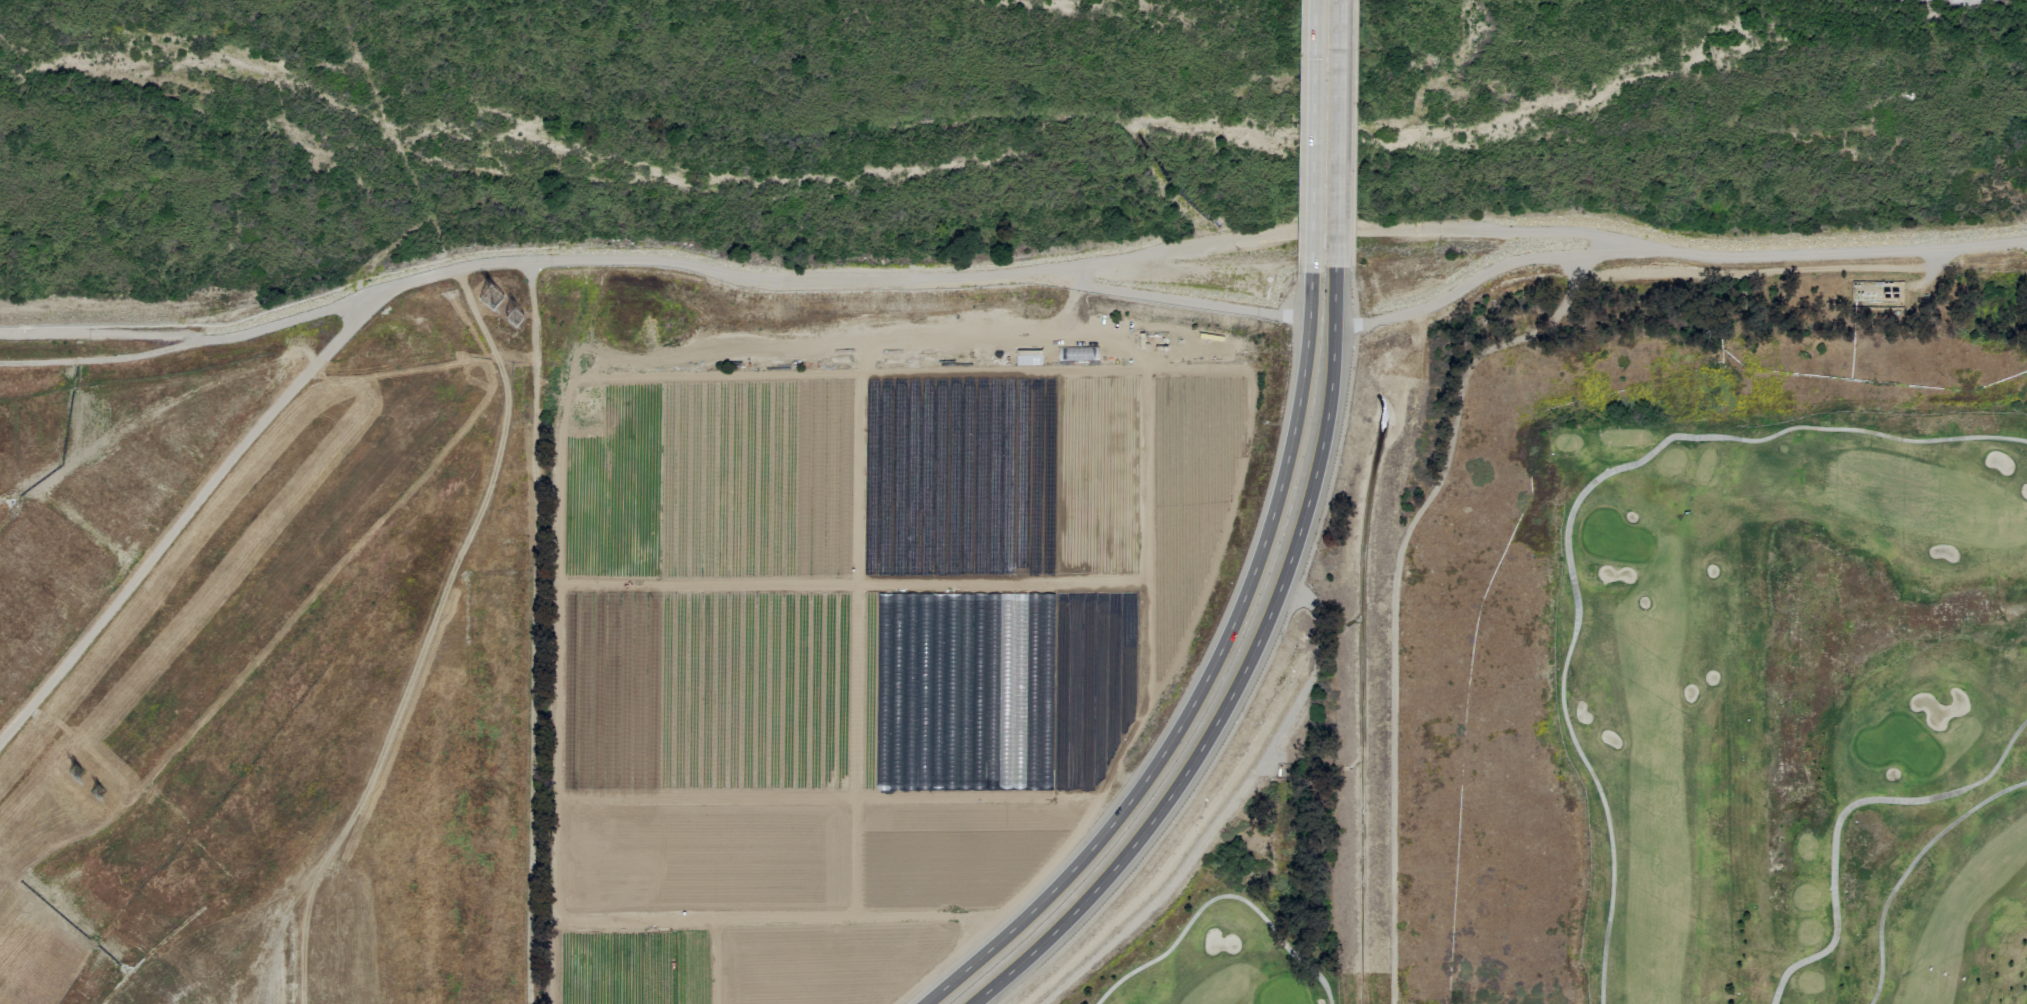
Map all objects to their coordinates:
road: (1310, 133)
road: (1335, 133)
road: (1672, 251)
power tower: (492, 299)
road: (1353, 299)
power tower: (515, 315)
building: (1028, 357)
road: (1850, 429)
road: (1393, 591)
road: (1311, 606)
road: (1299, 637)
park: (263, 648)
road: (1238, 678)
road: (1202, 681)
road: (1561, 695)
park: (1655, 695)
power tower: (75, 773)
power tower: (95, 791)
road: (1843, 812)
road: (1168, 825)
road: (1202, 841)
road: (1909, 866)
road: (1217, 896)

